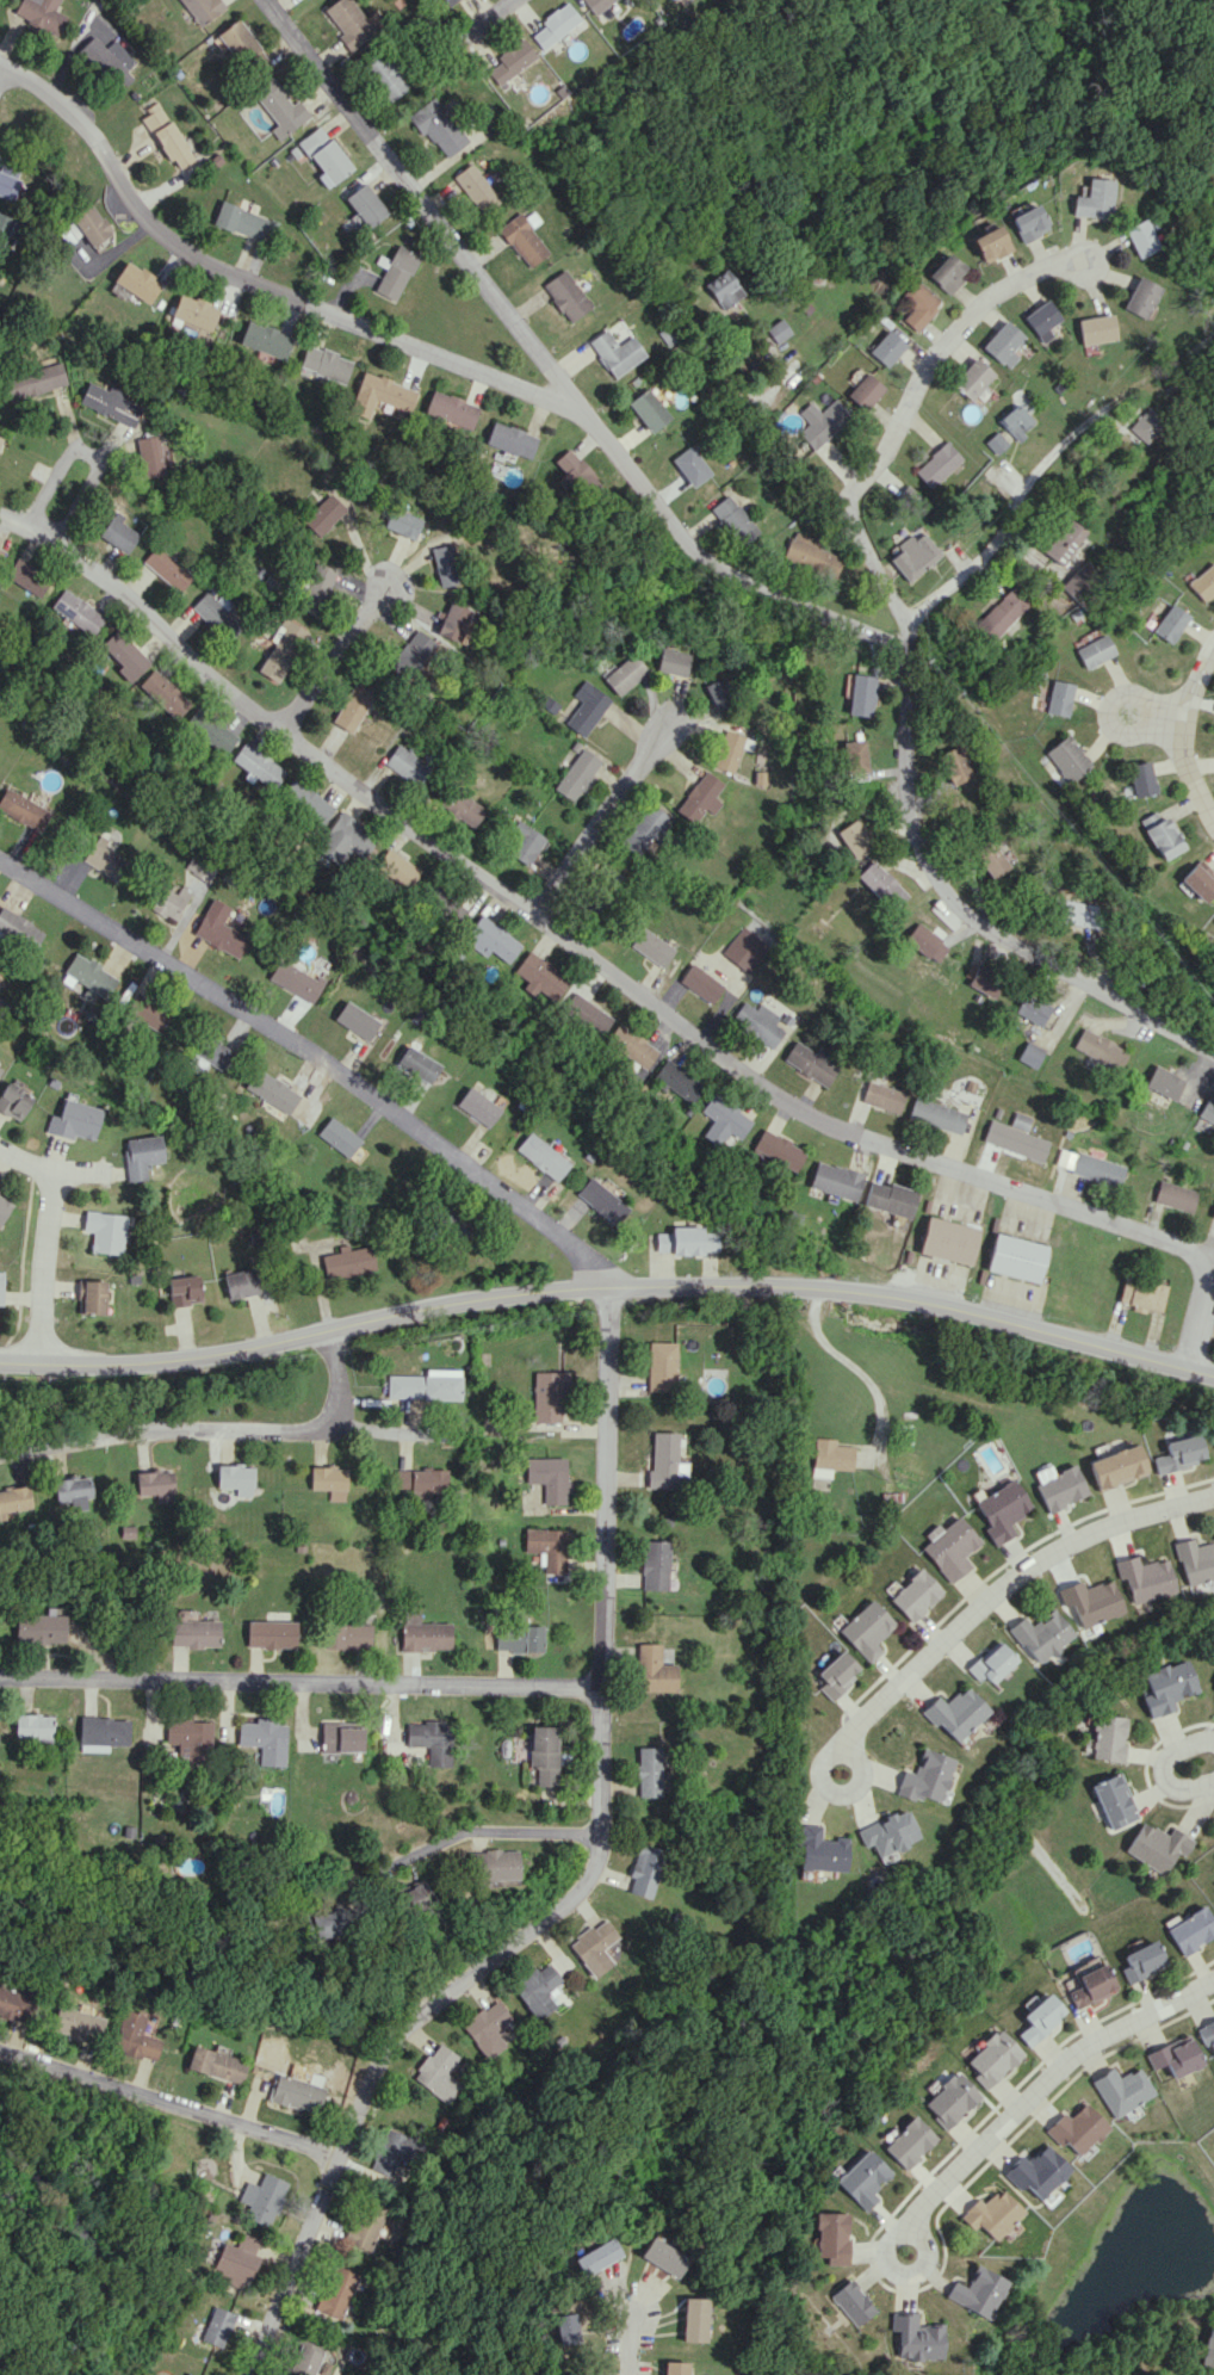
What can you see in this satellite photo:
building: (448, 2)
building: (595, 5)
building: (200, 10)
building: (39, 16)
road: (491, 18)
building: (347, 23)
building: (555, 24)
building: (240, 47)
building: (110, 60)
building: (509, 62)
building: (384, 74)
building: (279, 109)
building: (436, 128)
building: (165, 135)
building: (324, 155)
building: (8, 185)
building: (475, 187)
building: (1094, 198)
building: (365, 204)
building: (243, 222)
building: (1027, 222)
building: (89, 224)
building: (68, 233)
building: (522, 237)
building: (1140, 237)
building: (989, 243)
building: (395, 272)
building: (944, 273)
building: (136, 282)
road: (255, 289)
building: (721, 289)
building: (565, 295)
building: (1140, 297)
building: (917, 304)
building: (193, 311)
building: (1040, 320)
building: (1095, 329)
building: (776, 330)
building: (264, 339)
building: (1002, 344)
building: (886, 347)
building: (614, 352)
building: (323, 363)
road: (551, 371)
building: (971, 378)
building: (33, 381)
building: (863, 391)
building: (379, 394)
building: (111, 403)
building: (450, 409)
building: (648, 409)
road: (900, 416)
building: (1014, 421)
building: (820, 422)
building: (1145, 425)
road: (773, 434)
building: (508, 439)
building: (0, 440)
building: (993, 443)
road: (89, 447)
building: (149, 456)
building: (937, 464)
building: (689, 465)
building: (572, 471)
building: (321, 517)
building: (733, 519)
building: (402, 522)
building: (118, 533)
building: (1061, 540)
building: (0, 550)
building: (810, 555)
building: (913, 555)
building: (445, 564)
building: (167, 568)
building: (26, 576)
building: (1202, 581)
building: (1079, 582)
building: (316, 589)
building: (76, 611)
building: (216, 612)
building: (1001, 612)
building: (453, 621)
building: (1169, 623)
building: (280, 649)
building: (1094, 650)
building: (410, 654)
building: (123, 655)
building: (674, 661)
road: (341, 662)
building: (626, 674)
building: (720, 692)
building: (162, 693)
building: (860, 694)
building: (1058, 698)
building: (352, 705)
building: (587, 707)
road: (1159, 717)
building: (209, 731)
road: (1193, 734)
building: (731, 749)
building: (854, 755)
building: (1067, 757)
building: (256, 765)
building: (407, 765)
building: (953, 765)
building: (576, 774)
building: (1142, 778)
road: (888, 779)
building: (700, 797)
building: (305, 800)
building: (460, 806)
building: (21, 809)
building: (1148, 818)
road: (600, 823)
building: (643, 829)
building: (854, 837)
building: (1163, 839)
building: (343, 840)
building: (524, 842)
building: (106, 859)
building: (990, 859)
building: (198, 868)
building: (395, 868)
building: (1198, 880)
building: (880, 885)
building: (167, 901)
building: (442, 904)
building: (1077, 913)
building: (19, 929)
building: (217, 929)
building: (489, 939)
building: (925, 942)
building: (651, 946)
road: (571, 947)
building: (745, 948)
building: (88, 975)
building: (538, 976)
building: (293, 979)
building: (700, 982)
building: (985, 982)
building: (1033, 1009)
building: (148, 1013)
building: (584, 1014)
building: (354, 1020)
building: (757, 1022)
building: (631, 1045)
building: (1100, 1049)
building: (209, 1052)
building: (1030, 1053)
road: (315, 1059)
building: (416, 1063)
building: (810, 1063)
building: (676, 1081)
building: (1164, 1082)
building: (271, 1090)
building: (882, 1096)
building: (12, 1101)
building: (476, 1106)
building: (997, 1112)
building: (936, 1114)
building: (1206, 1115)
building: (721, 1119)
building: (74, 1120)
building: (1021, 1120)
building: (1069, 1132)
building: (339, 1136)
building: (1016, 1139)
building: (778, 1149)
building: (140, 1155)
building: (540, 1156)
building: (1097, 1168)
road: (51, 1169)
building: (834, 1180)
building: (1175, 1195)
building: (887, 1199)
building: (600, 1200)
building: (4, 1207)
building: (1213, 1214)
building: (452, 1223)
building: (105, 1231)
building: (948, 1239)
building: (685, 1241)
building: (1016, 1257)
building: (347, 1261)
road: (45, 1267)
building: (241, 1282)
building: (1, 1286)
building: (184, 1289)
building: (1141, 1293)
road: (609, 1295)
building: (92, 1297)
road: (1204, 1319)
building: (659, 1366)
road: (861, 1369)
building: (423, 1385)
building: (547, 1397)
road: (212, 1429)
building: (1177, 1453)
building: (829, 1456)
building: (661, 1460)
building: (1115, 1466)
building: (547, 1477)
building: (235, 1478)
building: (420, 1480)
building: (329, 1482)
building: (155, 1484)
building: (1058, 1485)
building: (73, 1491)
building: (13, 1499)
building: (1002, 1510)
building: (546, 1547)
building: (949, 1547)
building: (1195, 1561)
building: (652, 1565)
building: (1144, 1578)
road: (1010, 1582)
building: (915, 1594)
building: (1090, 1601)
building: (38, 1628)
building: (192, 1629)
building: (866, 1629)
building: (271, 1633)
building: (423, 1633)
building: (347, 1635)
building: (1040, 1635)
building: (518, 1638)
building: (990, 1663)
building: (652, 1669)
building: (836, 1674)
road: (303, 1687)
building: (1165, 1687)
building: (955, 1713)
building: (32, 1726)
building: (101, 1732)
building: (340, 1737)
building: (1105, 1737)
building: (190, 1738)
building: (264, 1739)
building: (431, 1739)
building: (544, 1754)
road: (1162, 1768)
building: (646, 1771)
building: (925, 1776)
road: (835, 1793)
building: (1111, 1800)
building: (886, 1835)
road: (487, 1836)
building: (1156, 1847)
building: (818, 1849)
building: (494, 1866)
building: (643, 1869)
road: (583, 1893)
building: (415, 1895)
building: (324, 1923)
building: (1190, 1930)
building: (593, 1947)
building: (1139, 1961)
building: (1088, 1986)
building: (537, 1990)
building: (13, 2004)
building: (1038, 2018)
building: (78, 2023)
building: (487, 2028)
building: (1206, 2033)
building: (135, 2036)
building: (1175, 2057)
building: (991, 2058)
building: (216, 2064)
building: (436, 2072)
road: (1045, 2083)
building: (1121, 2090)
building: (296, 2092)
building: (950, 2099)
road: (168, 2101)
building: (1077, 2128)
building: (909, 2142)
building: (395, 2151)
building: (1038, 2171)
building: (863, 2178)
building: (261, 2198)
building: (992, 2214)
building: (366, 2224)
building: (832, 2237)
road: (89, 2245)
building: (594, 2257)
building: (661, 2257)
road: (886, 2257)
building: (237, 2259)
building: (336, 2291)
building: (977, 2291)
building: (853, 2302)
building: (693, 2319)
building: (217, 2326)
building: (563, 2328)
building: (917, 2337)
building: (1208, 2349)
road: (633, 2355)
building: (302, 2361)
building: (674, 2368)
building: (187, 2374)

